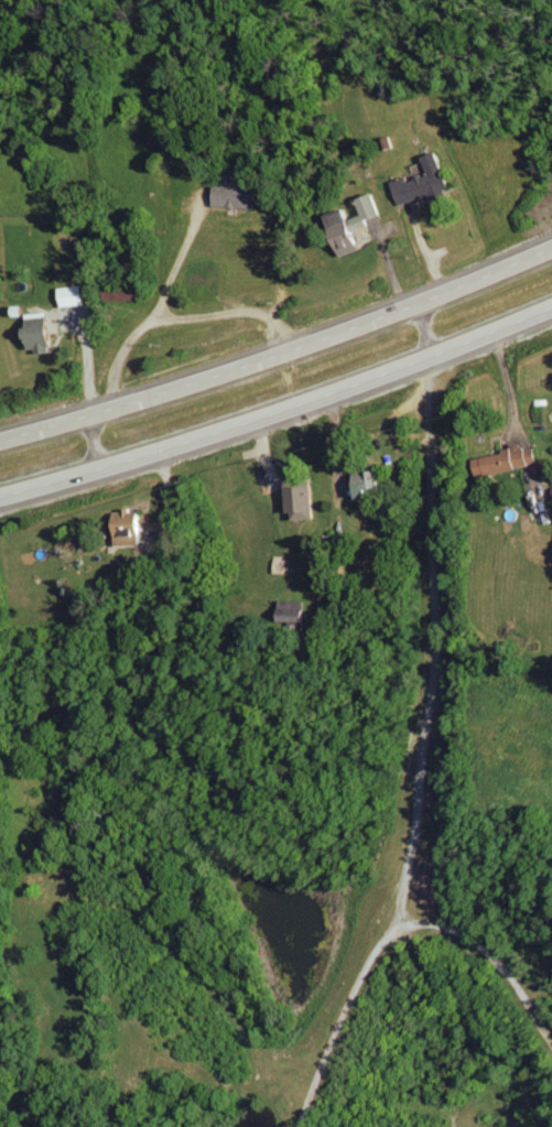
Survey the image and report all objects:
building: (425, 182)
building: (239, 197)
building: (357, 224)
road: (418, 246)
building: (76, 296)
road: (234, 313)
road: (150, 319)
building: (43, 332)
road: (279, 358)
road: (280, 418)
road: (93, 445)
building: (509, 460)
building: (370, 484)
building: (304, 499)
building: (134, 529)
building: (295, 611)
road: (419, 726)

